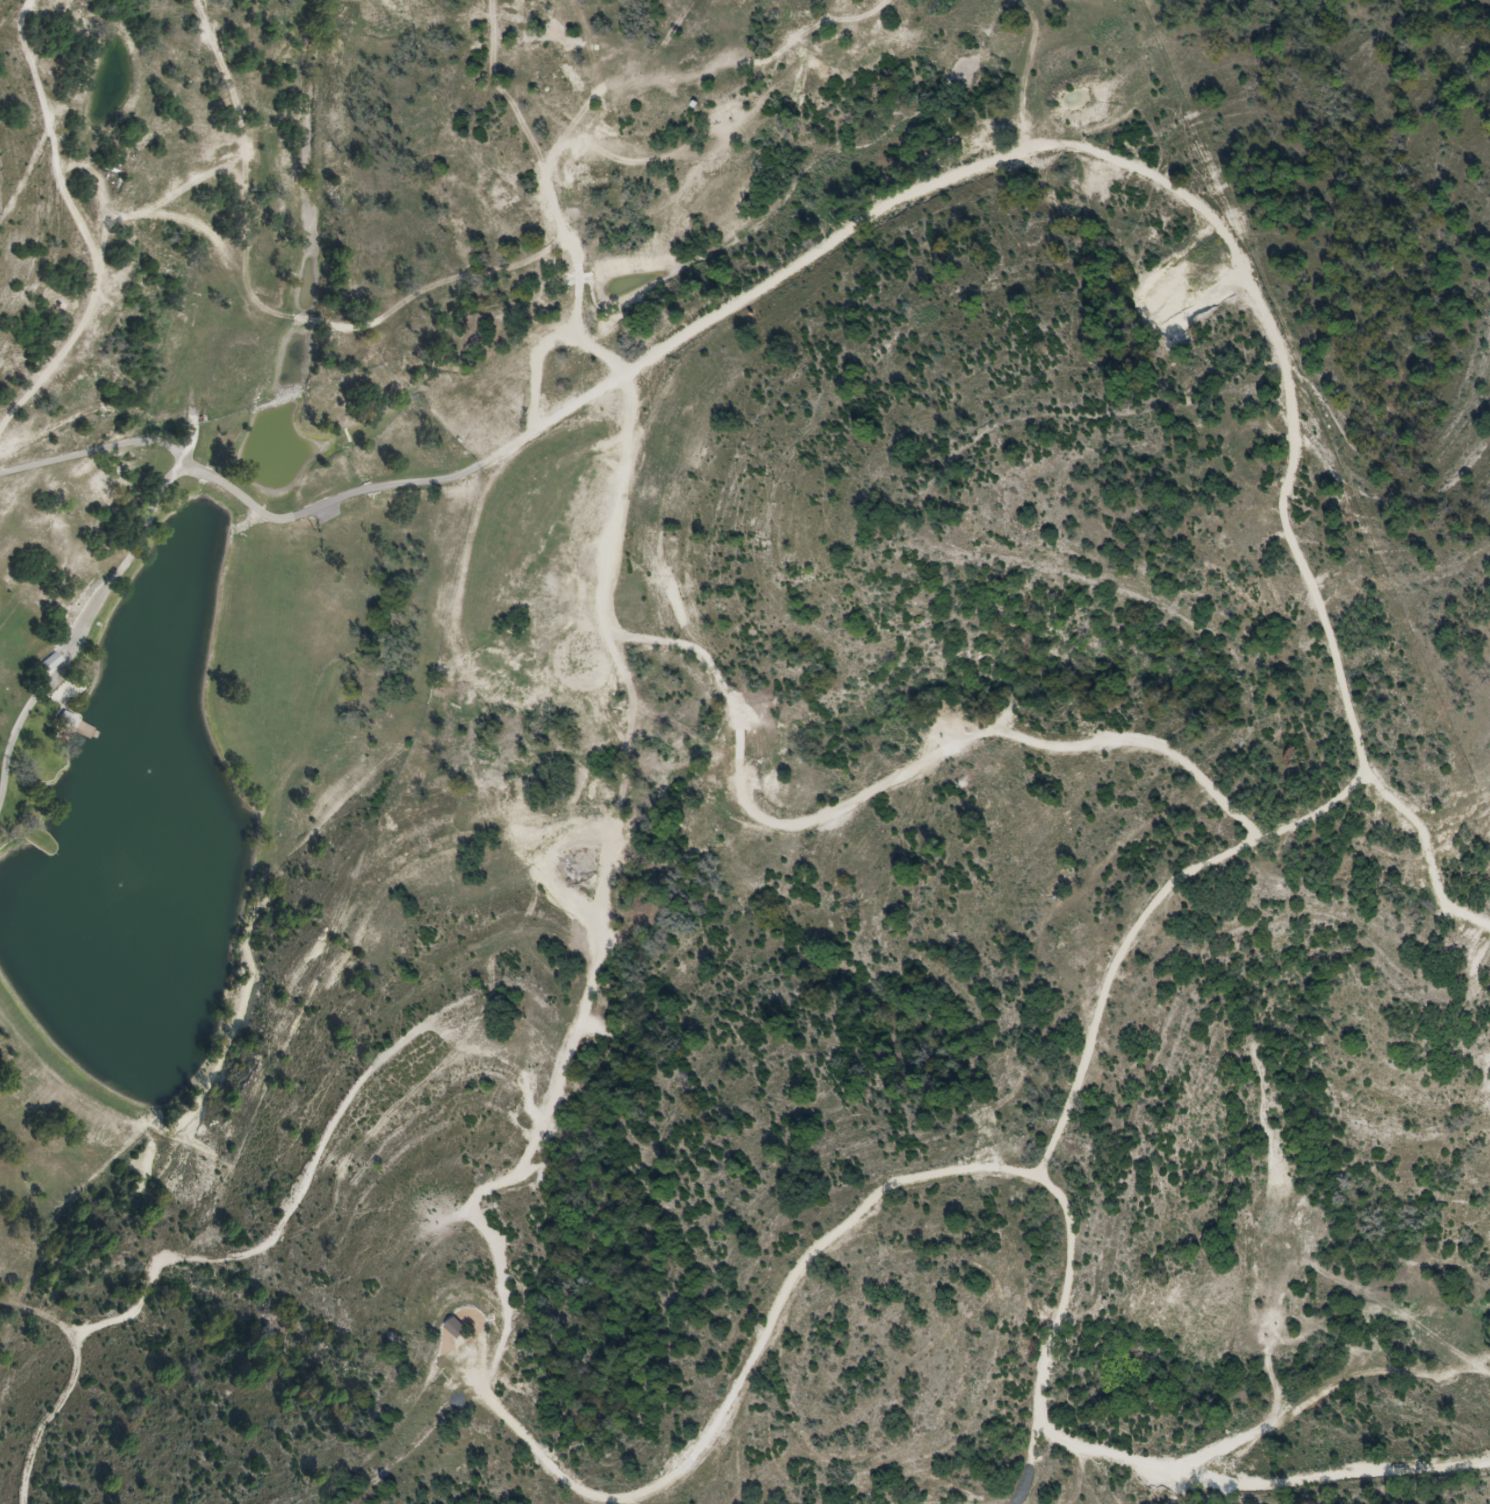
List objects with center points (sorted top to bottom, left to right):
building: (53, 663)
building: (69, 720)

